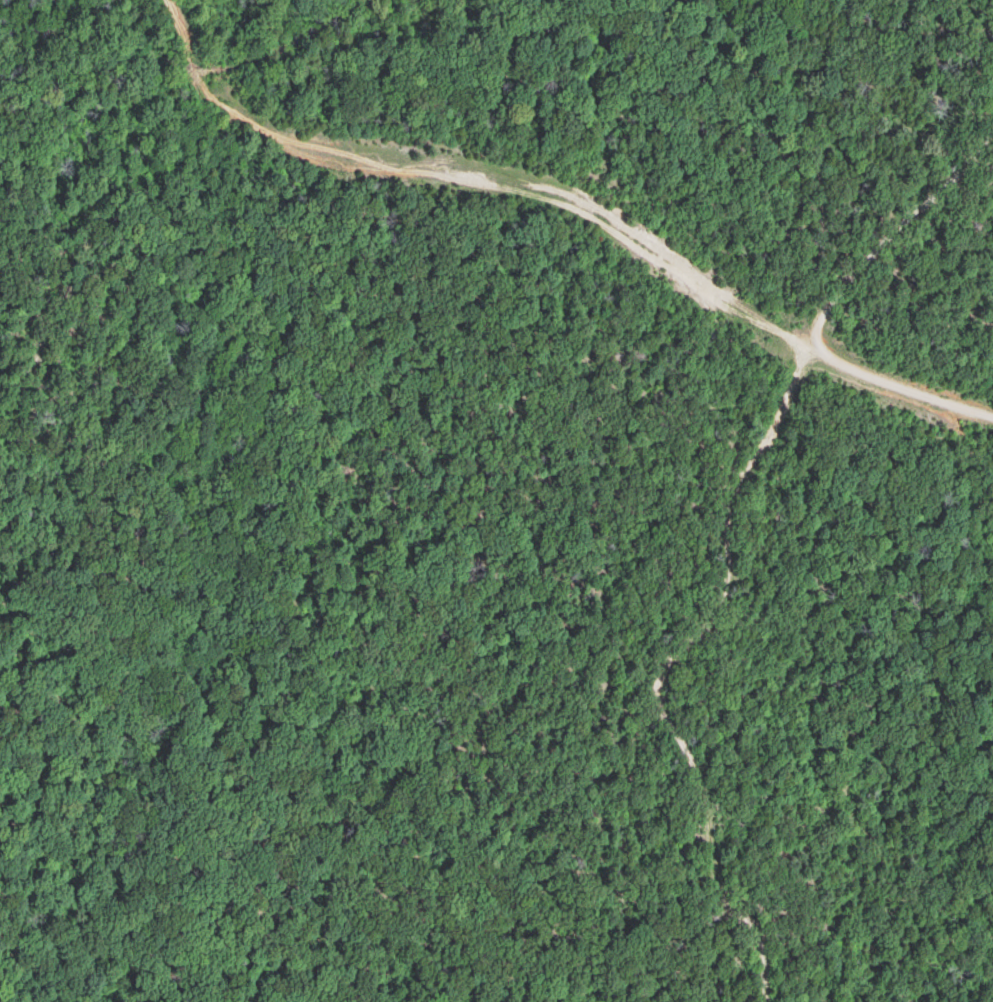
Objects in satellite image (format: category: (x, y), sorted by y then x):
road: (472, 171)
road: (898, 255)
road: (900, 386)
road: (717, 663)

